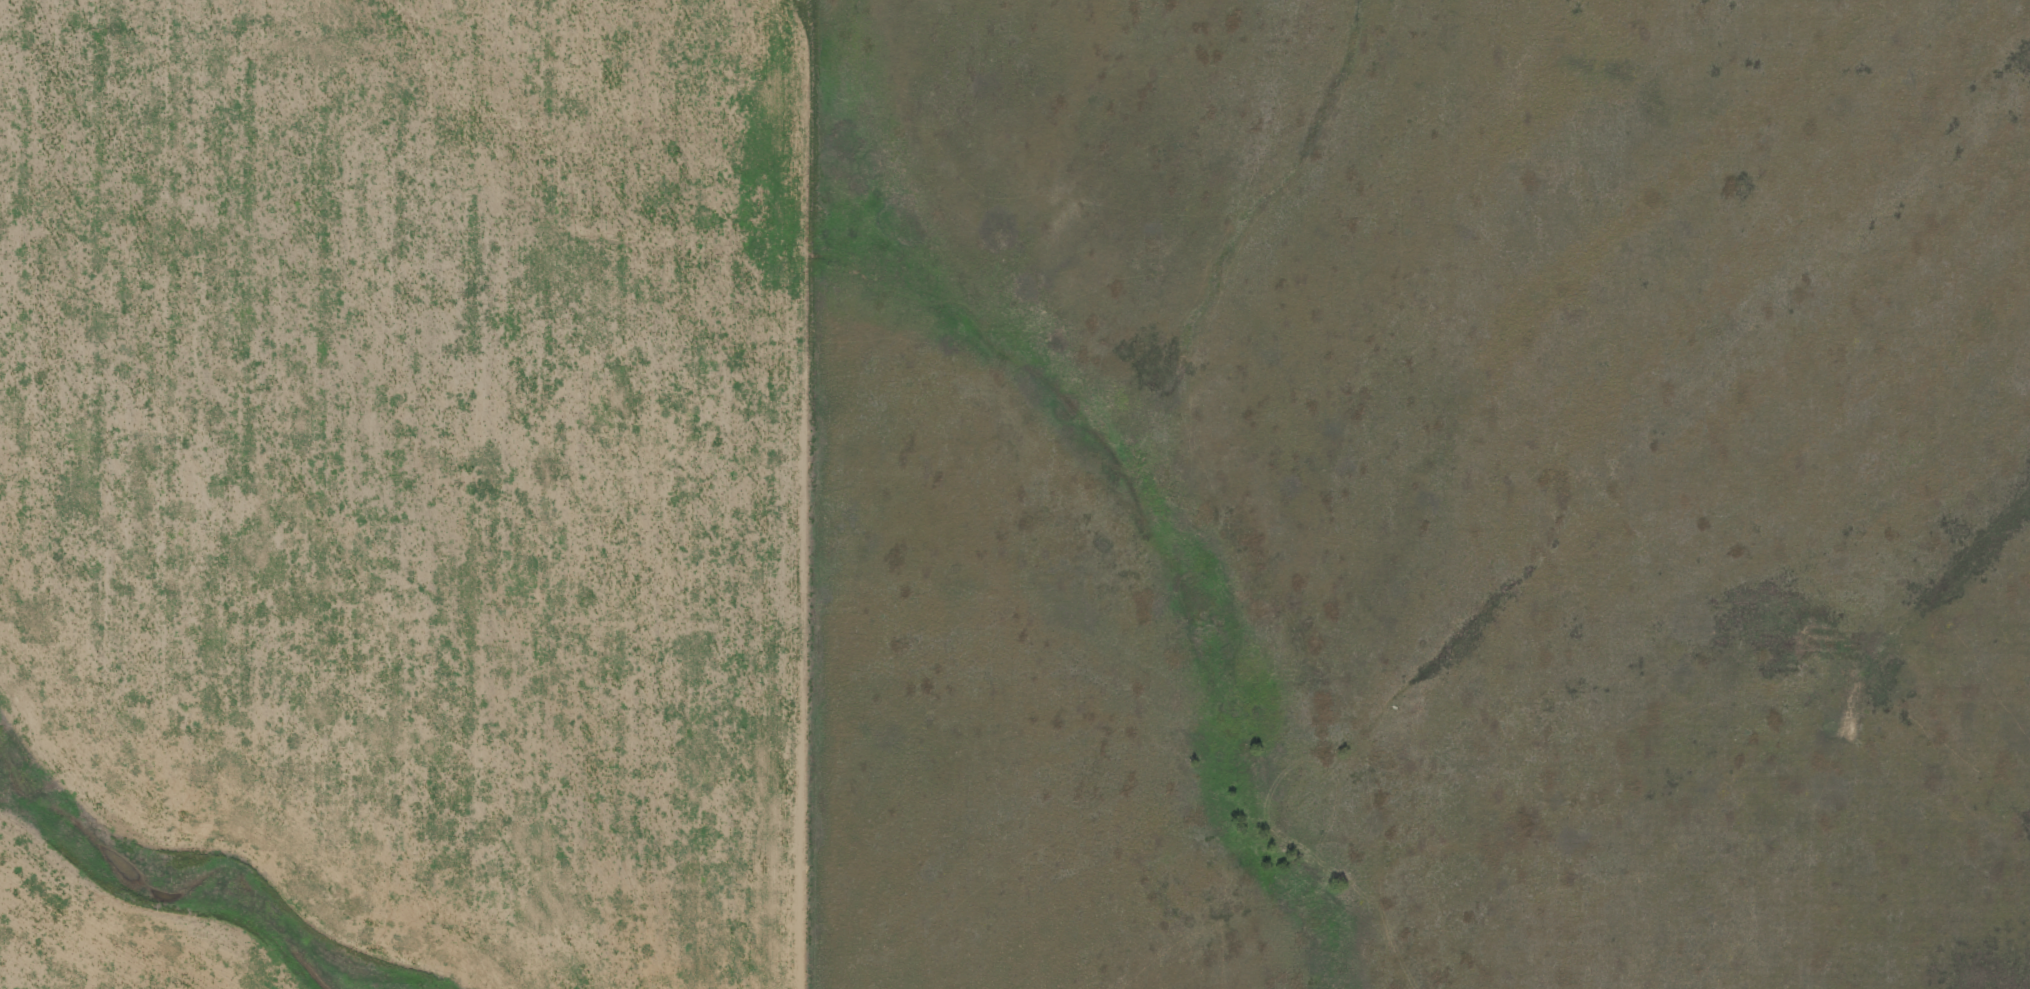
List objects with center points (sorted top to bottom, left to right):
road: (1869, 677)

